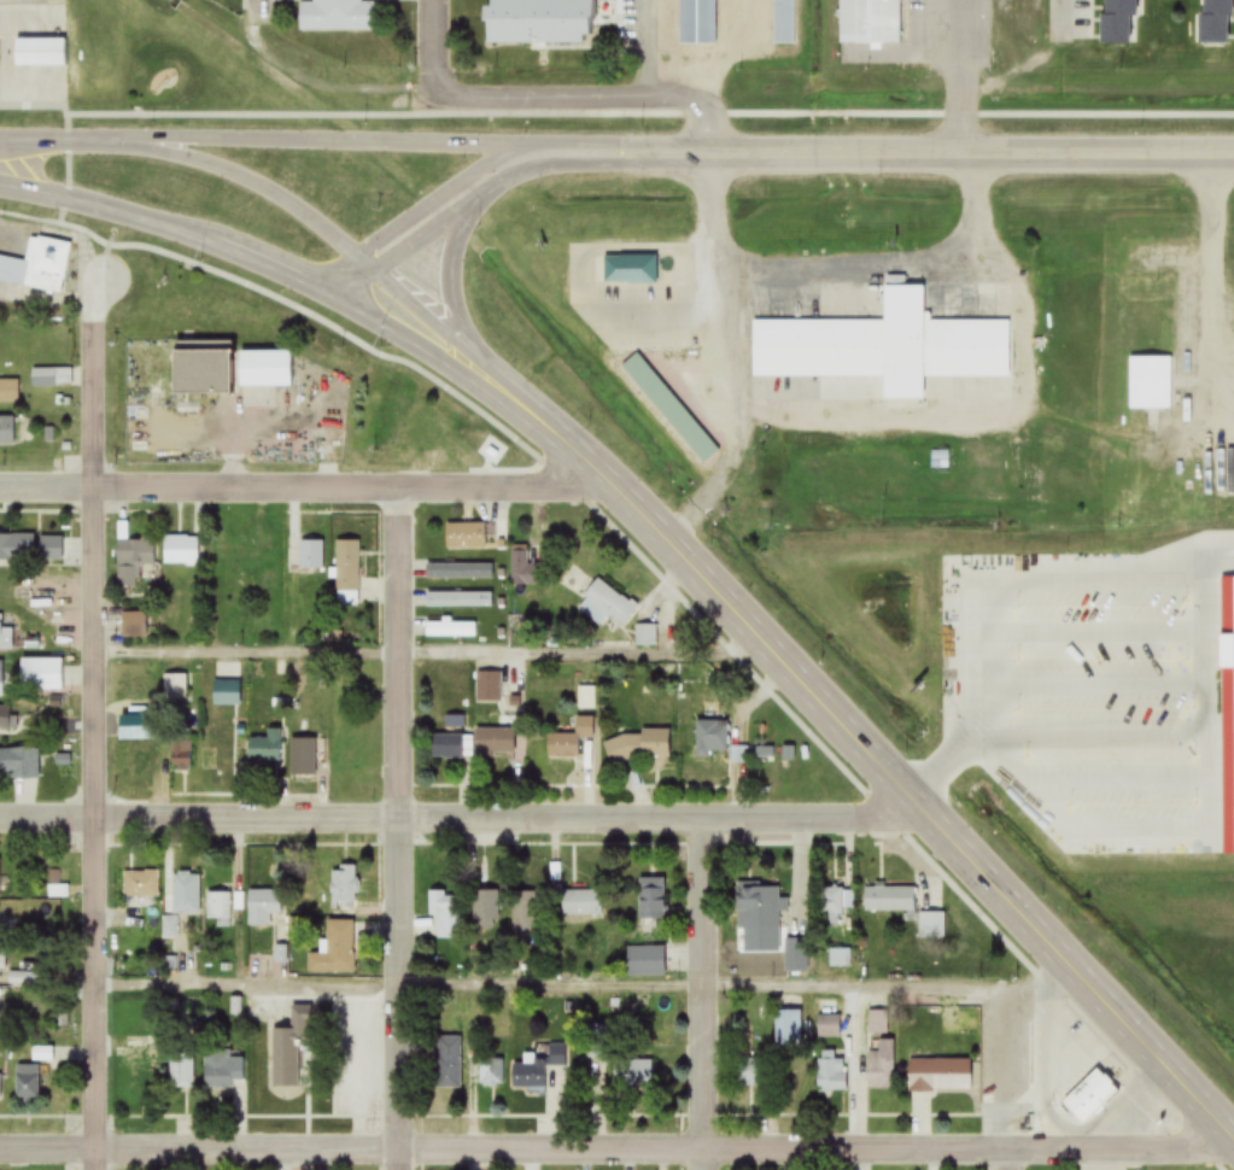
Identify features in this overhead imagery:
road: (1065, 6)
road: (259, 8)
building: (337, 16)
building: (539, 22)
building: (870, 22)
building: (1117, 22)
building: (1215, 22)
building: (698, 23)
building: (784, 23)
building: (40, 43)
road: (432, 46)
road: (591, 99)
road: (650, 111)
road: (784, 154)
road: (193, 223)
building: (37, 265)
building: (631, 270)
road: (821, 279)
road: (1206, 296)
building: (888, 346)
building: (201, 368)
building: (264, 368)
building: (52, 378)
building: (1150, 384)
building: (10, 392)
building: (671, 402)
road: (727, 425)
building: (6, 431)
building: (420, 439)
building: (940, 457)
road: (302, 486)
building: (466, 536)
building: (17, 548)
building: (181, 549)
building: (55, 550)
building: (229, 551)
building: (311, 555)
building: (133, 558)
building: (347, 567)
building: (525, 569)
building: (460, 571)
building: (2, 589)
building: (460, 599)
building: (606, 604)
building: (134, 625)
road: (1197, 625)
building: (445, 628)
building: (649, 636)
building: (6, 638)
road: (730, 649)
road: (428, 654)
building: (41, 673)
building: (1, 679)
building: (487, 688)
building: (175, 689)
building: (227, 694)
building: (350, 696)
road: (820, 704)
building: (5, 719)
building: (455, 723)
road: (95, 725)
building: (712, 739)
building: (571, 741)
building: (495, 743)
building: (446, 747)
building: (641, 747)
building: (265, 749)
building: (349, 754)
building: (181, 755)
building: (739, 755)
building: (303, 759)
building: (18, 764)
building: (136, 768)
road: (460, 819)
road: (398, 827)
building: (141, 885)
building: (344, 885)
building: (186, 894)
building: (889, 901)
building: (651, 902)
building: (836, 903)
building: (581, 905)
building: (263, 907)
building: (485, 908)
building: (758, 908)
building: (220, 909)
building: (524, 915)
building: (446, 917)
building: (931, 926)
building: (170, 929)
building: (335, 950)
building: (796, 957)
building: (2, 959)
building: (841, 959)
building: (647, 963)
road: (585, 988)
road: (700, 995)
building: (878, 1023)
building: (829, 1024)
building: (788, 1028)
building: (291, 1047)
building: (450, 1053)
building: (556, 1057)
building: (881, 1065)
building: (142, 1067)
building: (181, 1069)
building: (223, 1071)
building: (491, 1074)
building: (754, 1074)
building: (831, 1074)
building: (528, 1075)
building: (632, 1076)
building: (940, 1076)
building: (27, 1083)
building: (0, 1087)
building: (1092, 1099)
road: (615, 1153)
road: (1006, 1160)

